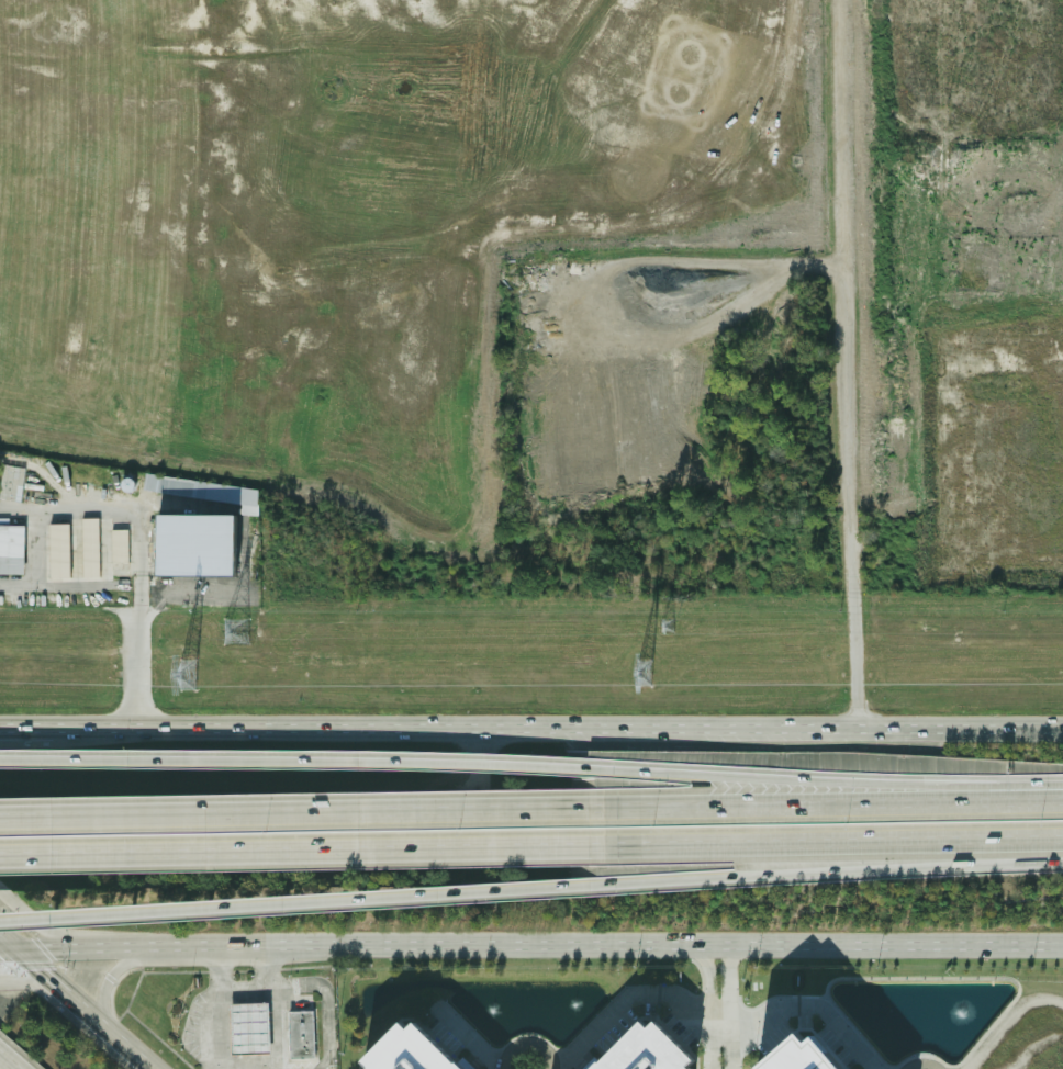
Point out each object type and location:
building: (10, 483)
building: (182, 486)
road: (849, 495)
building: (116, 547)
building: (186, 547)
building: (87, 548)
building: (10, 550)
building: (55, 551)
power tower: (668, 624)
road: (139, 628)
power tower: (235, 631)
power tower: (641, 676)
power tower: (188, 678)
road: (530, 731)
road: (296, 759)
road: (828, 777)
road: (829, 800)
road: (298, 810)
road: (829, 843)
road: (298, 851)
road: (829, 873)
road: (298, 901)
road: (42, 924)
road: (5, 942)
road: (436, 945)
road: (962, 945)
road: (5, 948)
road: (718, 948)
road: (714, 957)
road: (724, 957)
road: (26, 960)
traffic signals: (32, 965)
road: (217, 967)
road: (21, 976)
road: (104, 977)
road: (729, 982)
road: (710, 984)
road: (246, 988)
road: (624, 1000)
parking lot: (302, 1002)
road: (327, 1002)
road: (275, 1006)
road: (715, 1010)
road: (725, 1010)
road: (786, 1012)
road: (96, 1021)
road: (1011, 1022)
parking lot: (192, 1026)
building: (245, 1027)
gas station: (245, 1028)
road: (220, 1029)
building: (298, 1035)
building: (650, 1050)
building: (411, 1051)
building: (803, 1057)
road: (7, 1062)
parking lot: (302, 1065)
road: (224, 1066)

